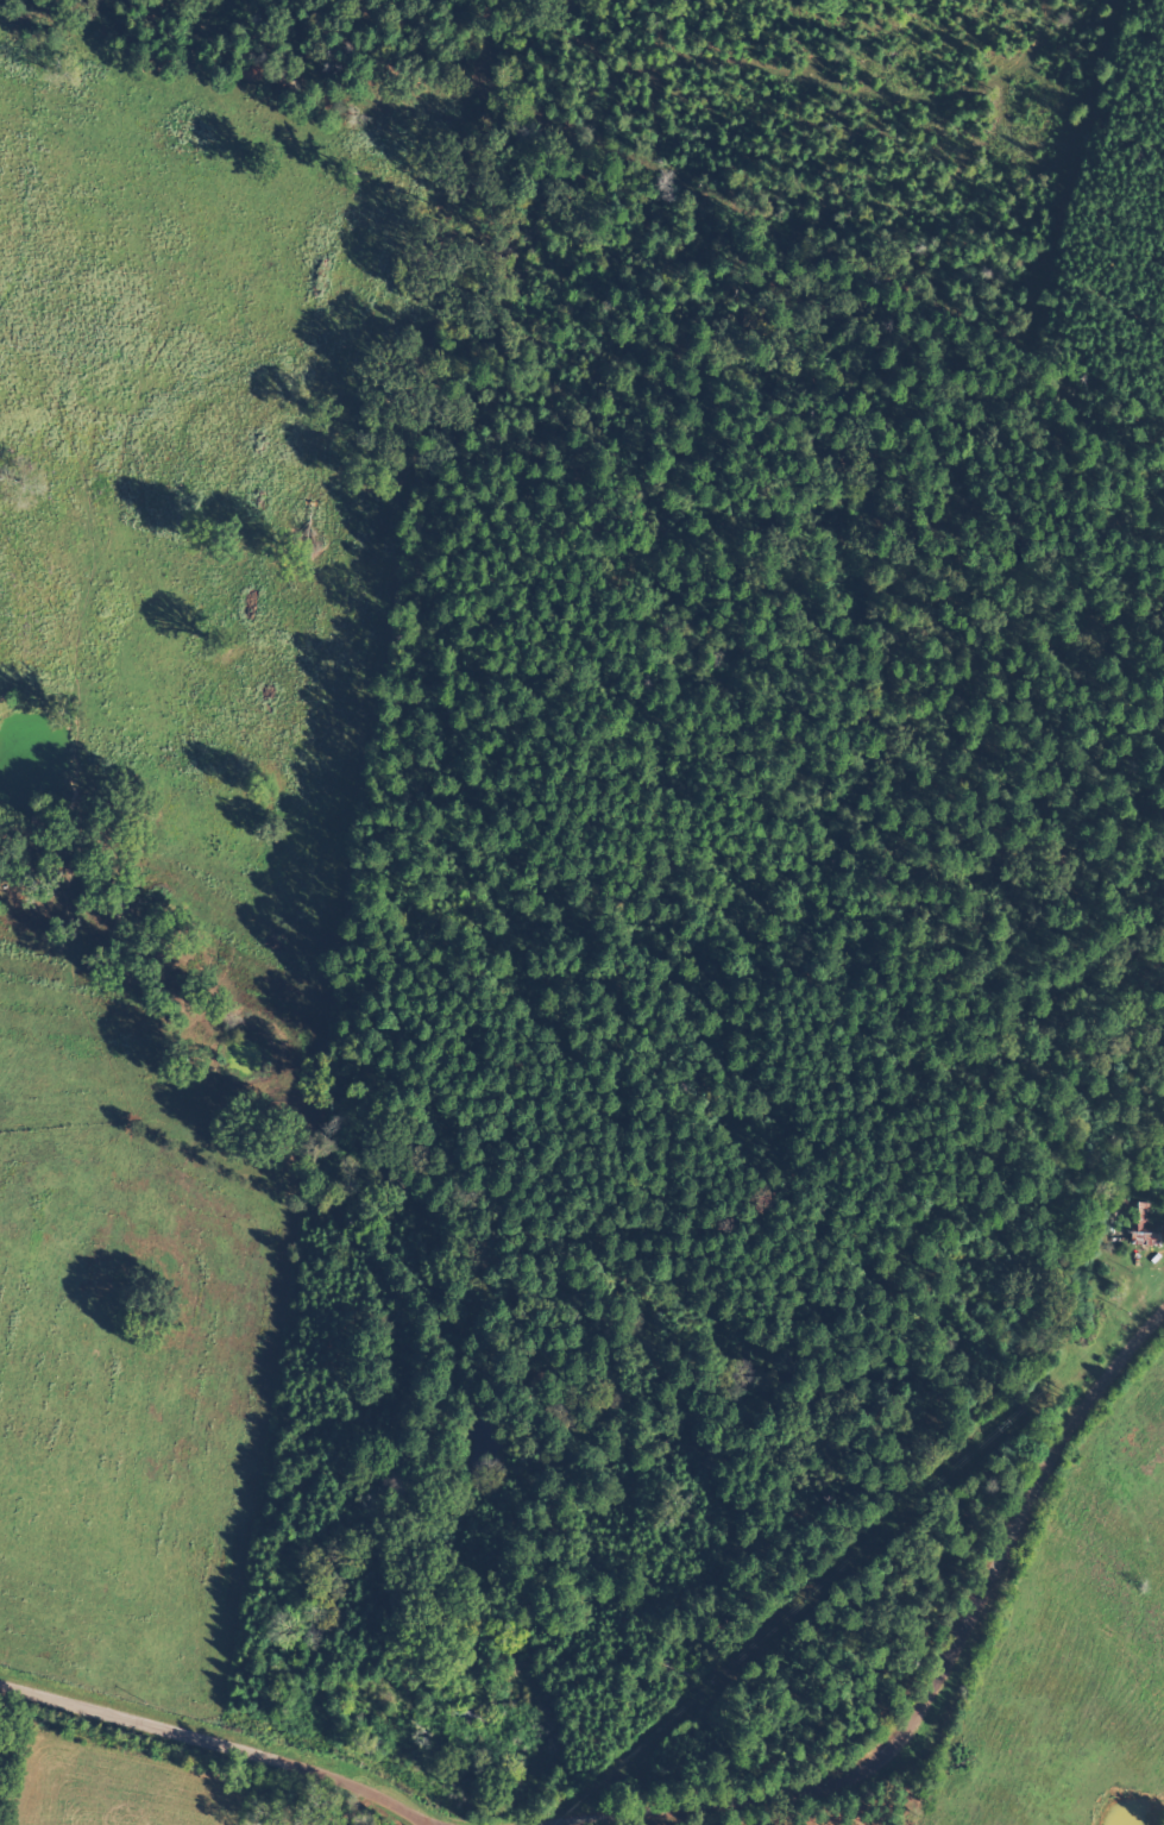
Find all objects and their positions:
road: (927, 1700)
road: (172, 1755)

